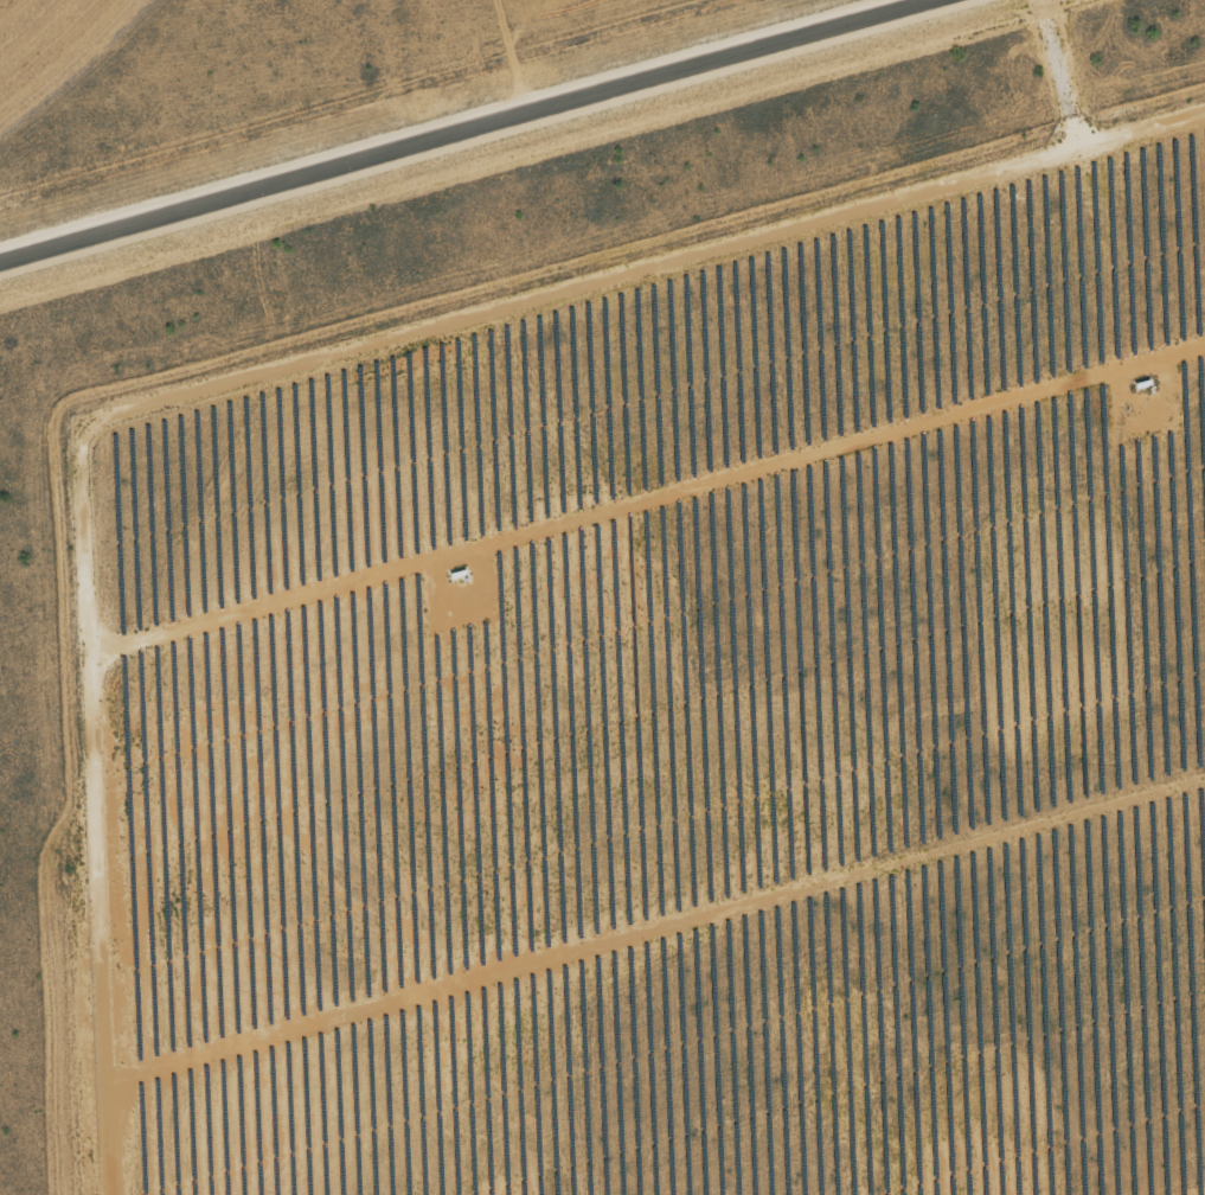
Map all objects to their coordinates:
road: (467, 132)
solar farm: (675, 717)

